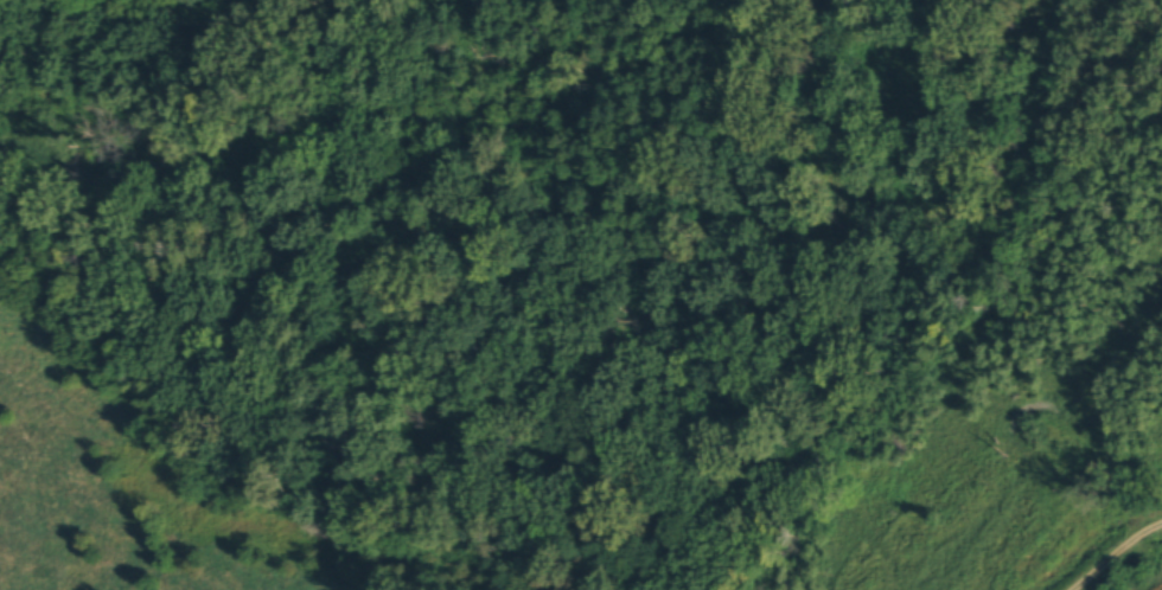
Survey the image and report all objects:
road: (1119, 557)

